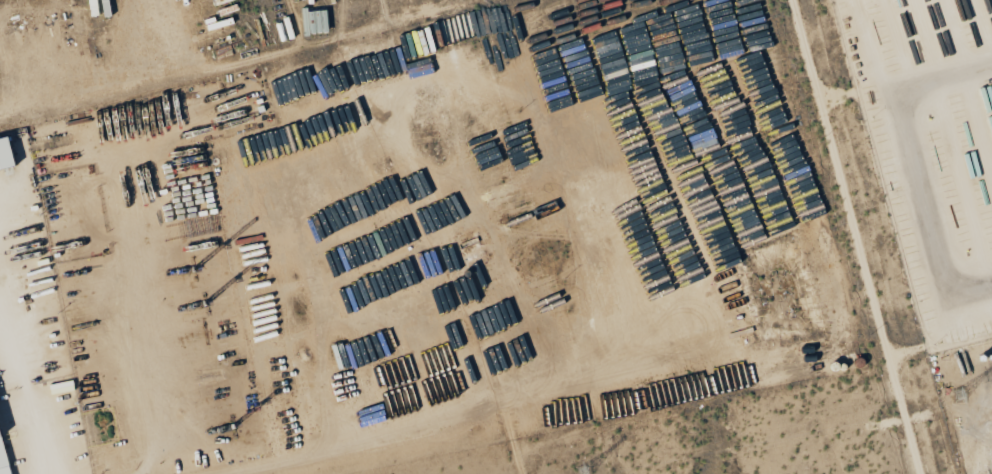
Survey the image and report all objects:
building: (6, 155)
building: (60, 391)
power tower: (959, 393)
building: (2, 462)
power tower: (582, 471)

